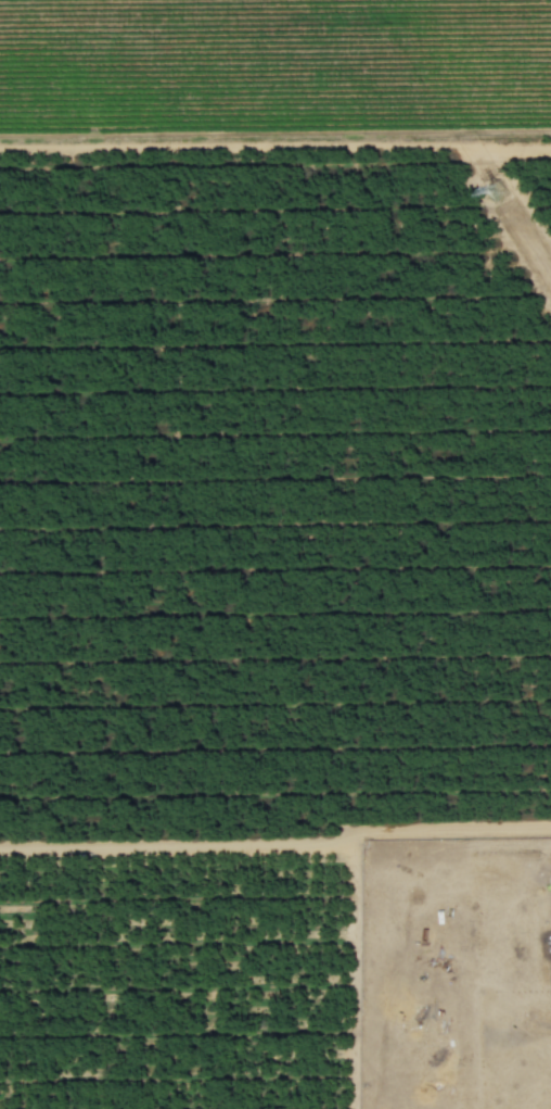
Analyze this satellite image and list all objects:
power tower: (492, 190)
road: (277, 845)

